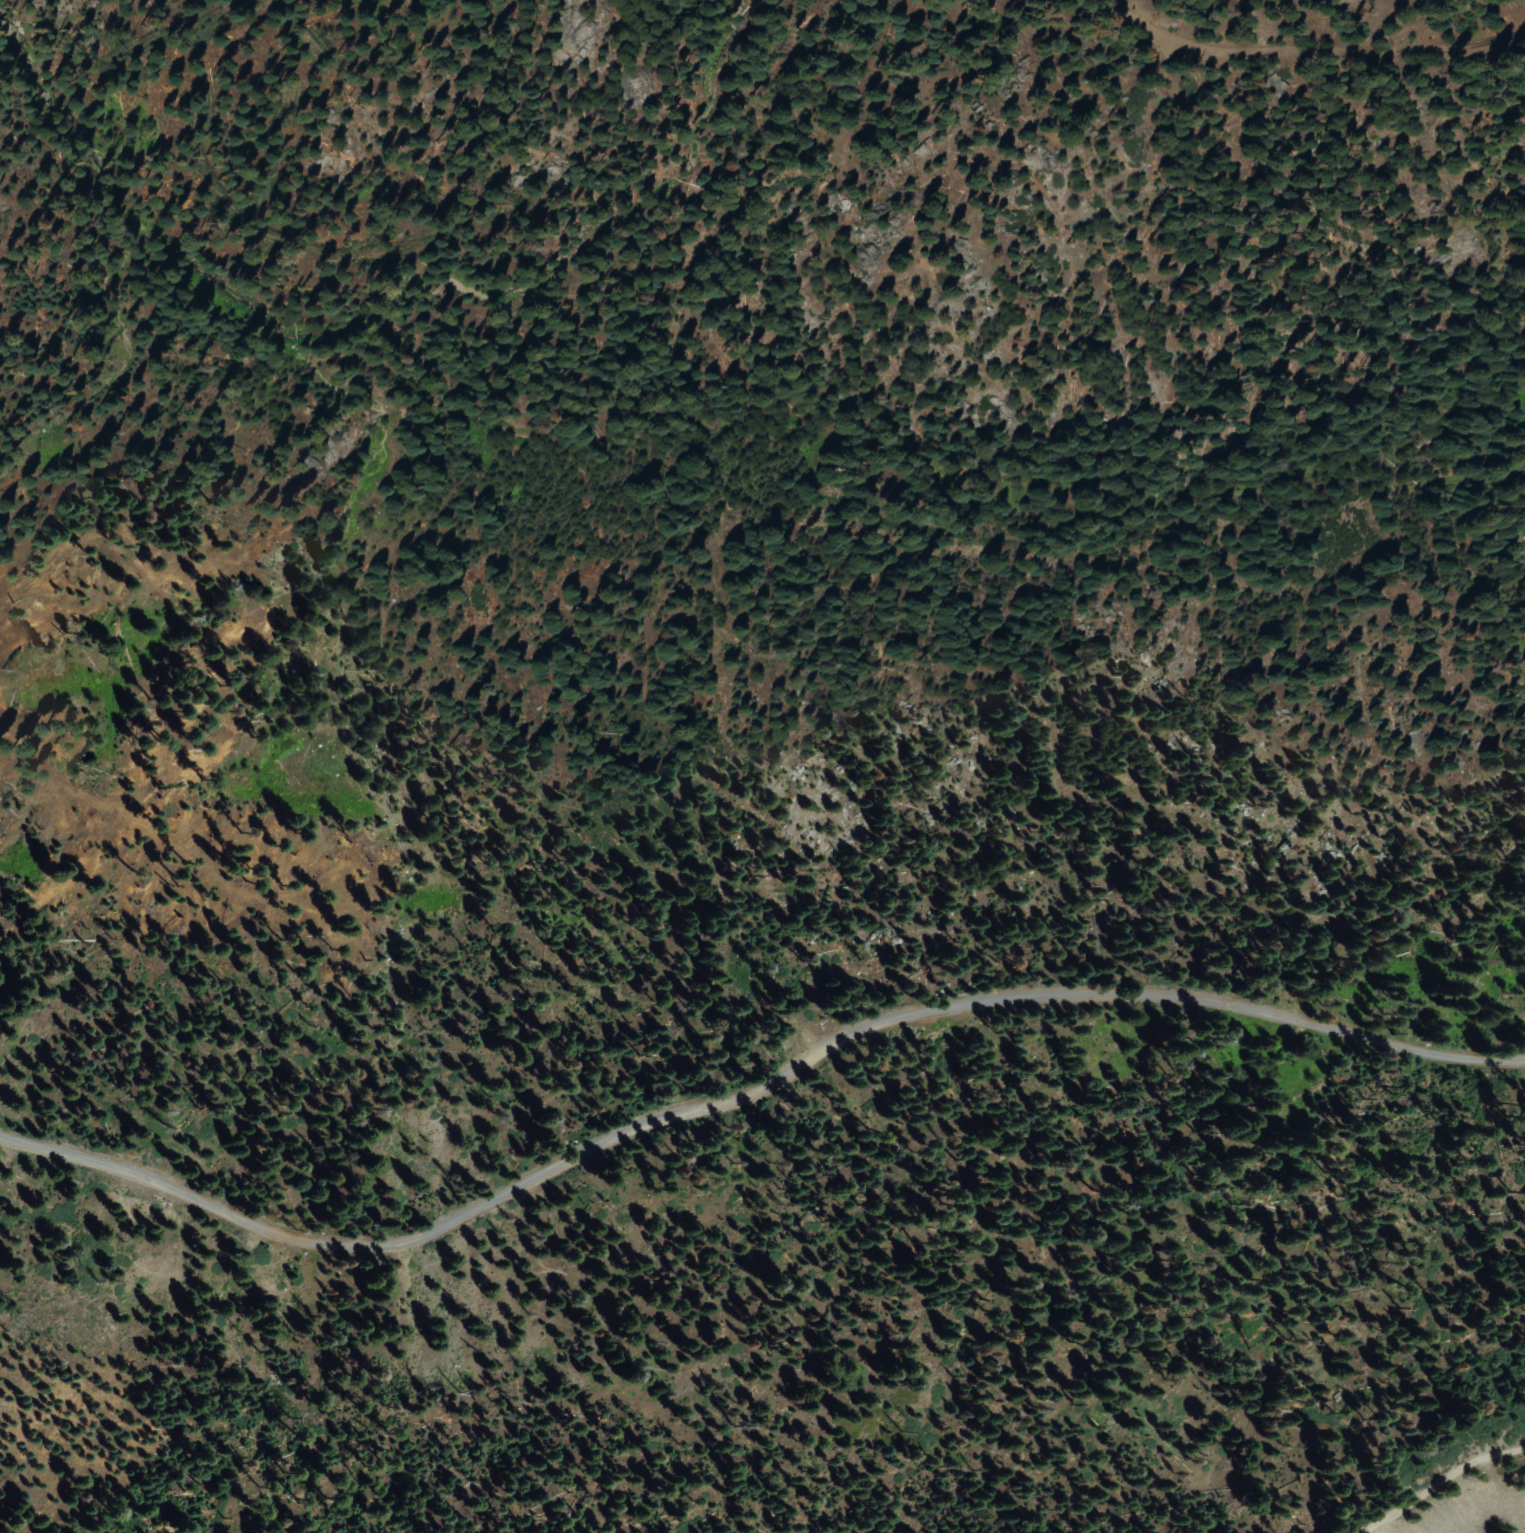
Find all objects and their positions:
road: (1309, 52)
building: (1518, 529)
road: (750, 1092)
road: (1448, 1483)

